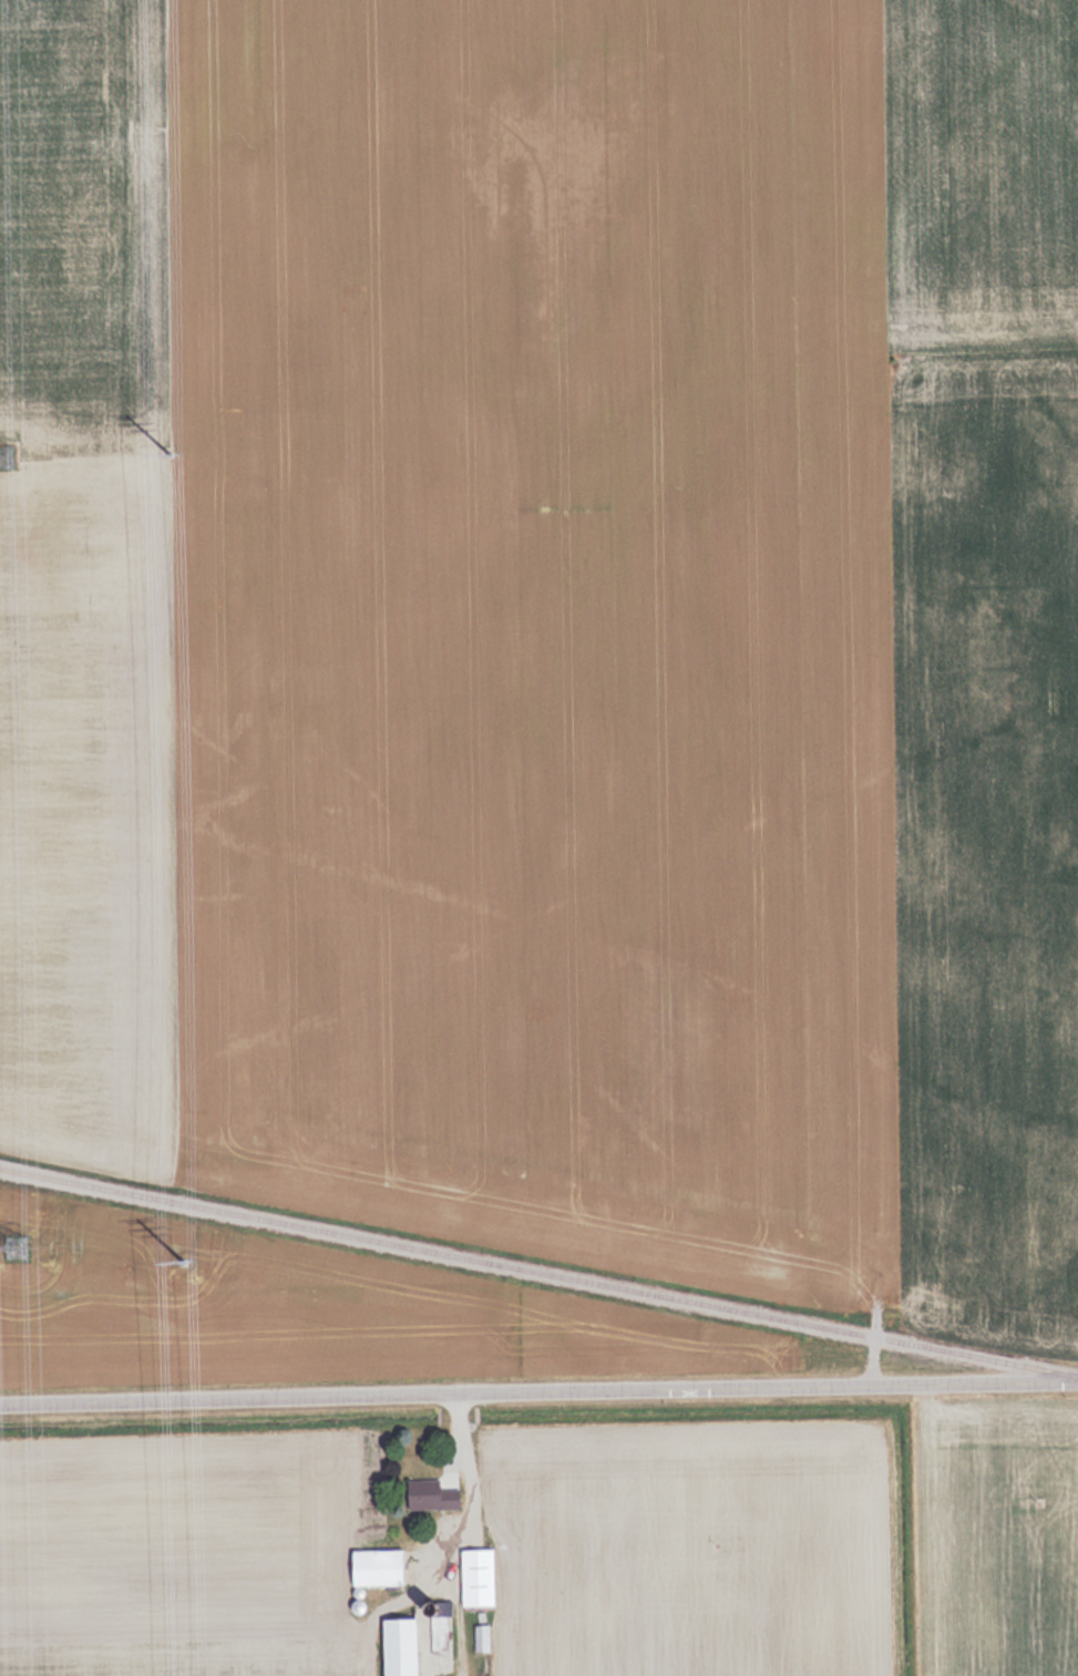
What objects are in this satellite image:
power tower: (168, 453)
power tower: (1, 457)
power tower: (19, 1247)
power tower: (176, 1259)
railway: (538, 1271)
road: (538, 1394)
road: (475, 1488)
building: (429, 1494)
building: (376, 1567)
building: (474, 1576)
building: (438, 1634)
building: (397, 1647)

